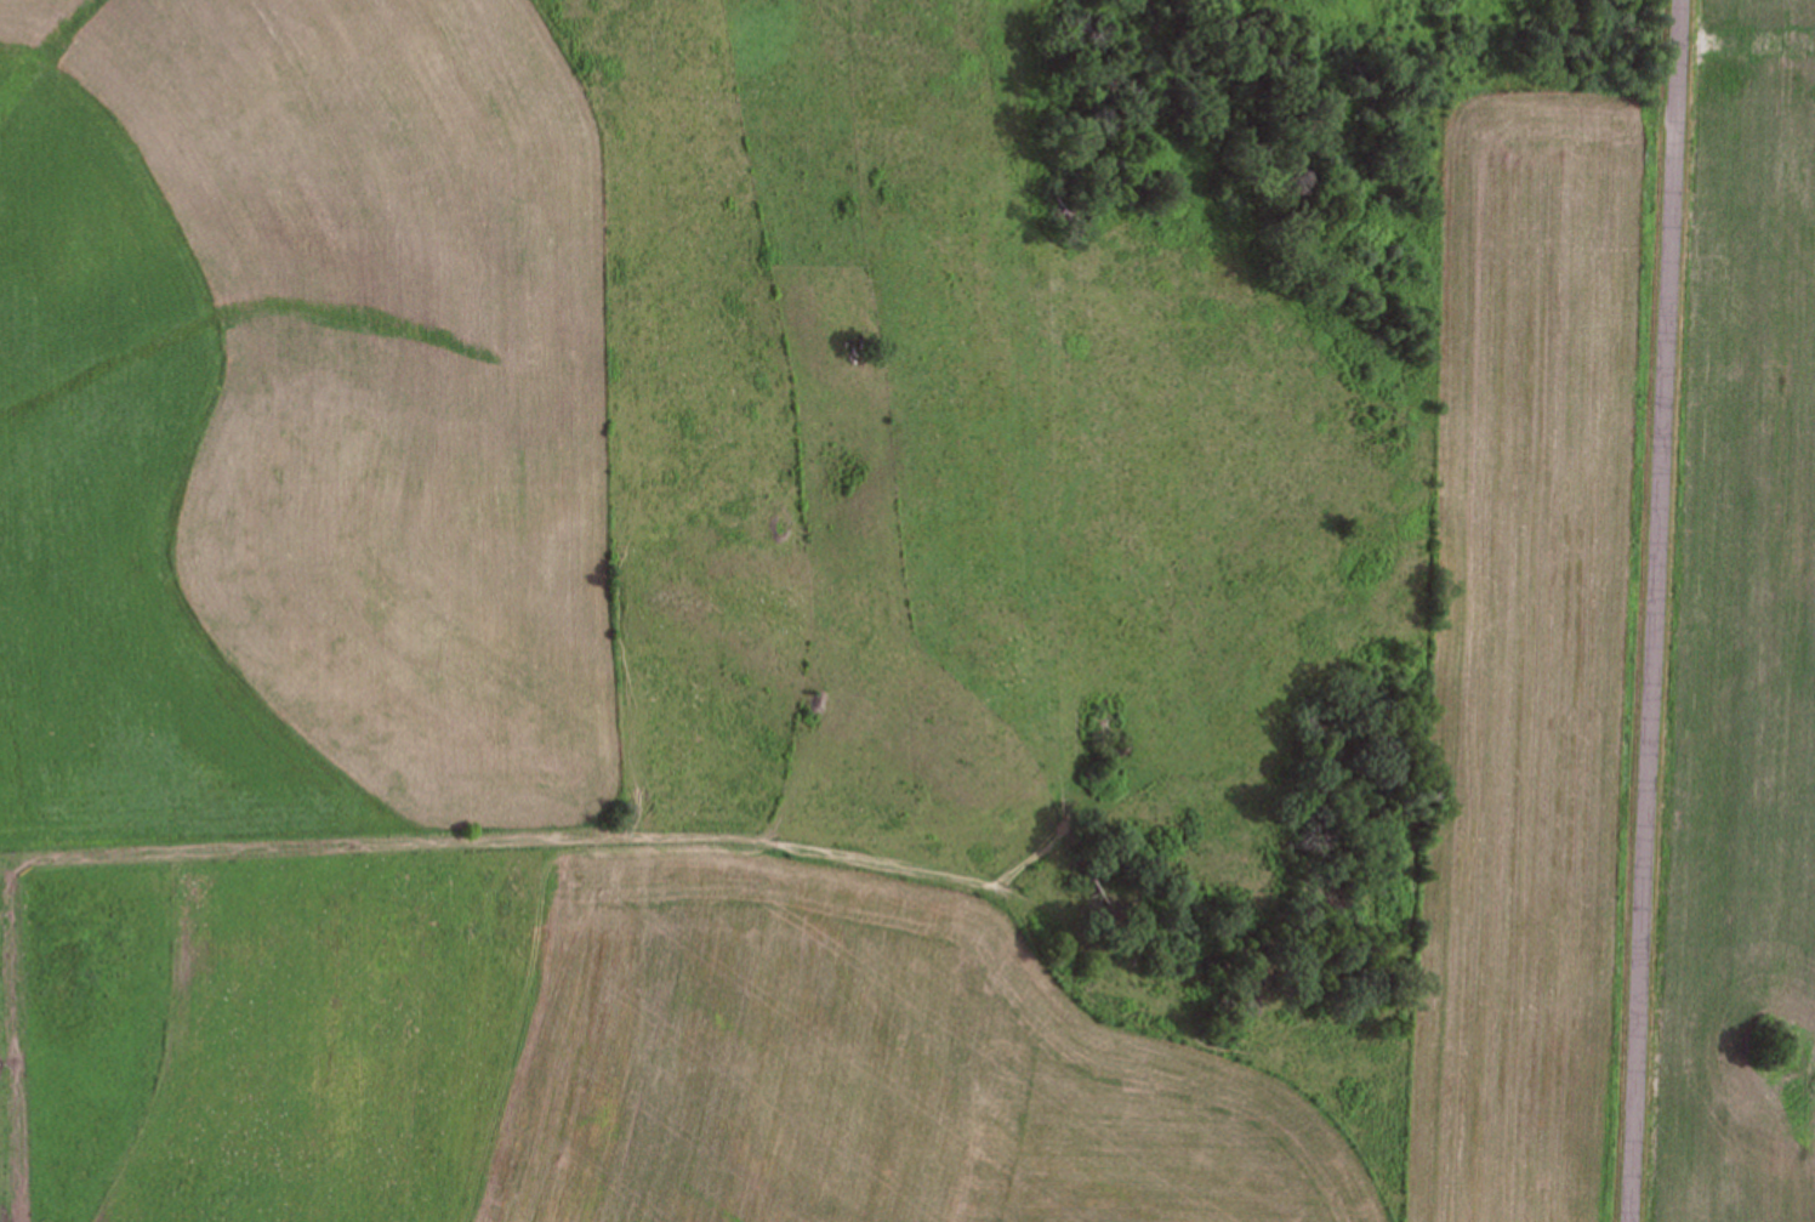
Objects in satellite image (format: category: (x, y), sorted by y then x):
road: (1649, 610)

